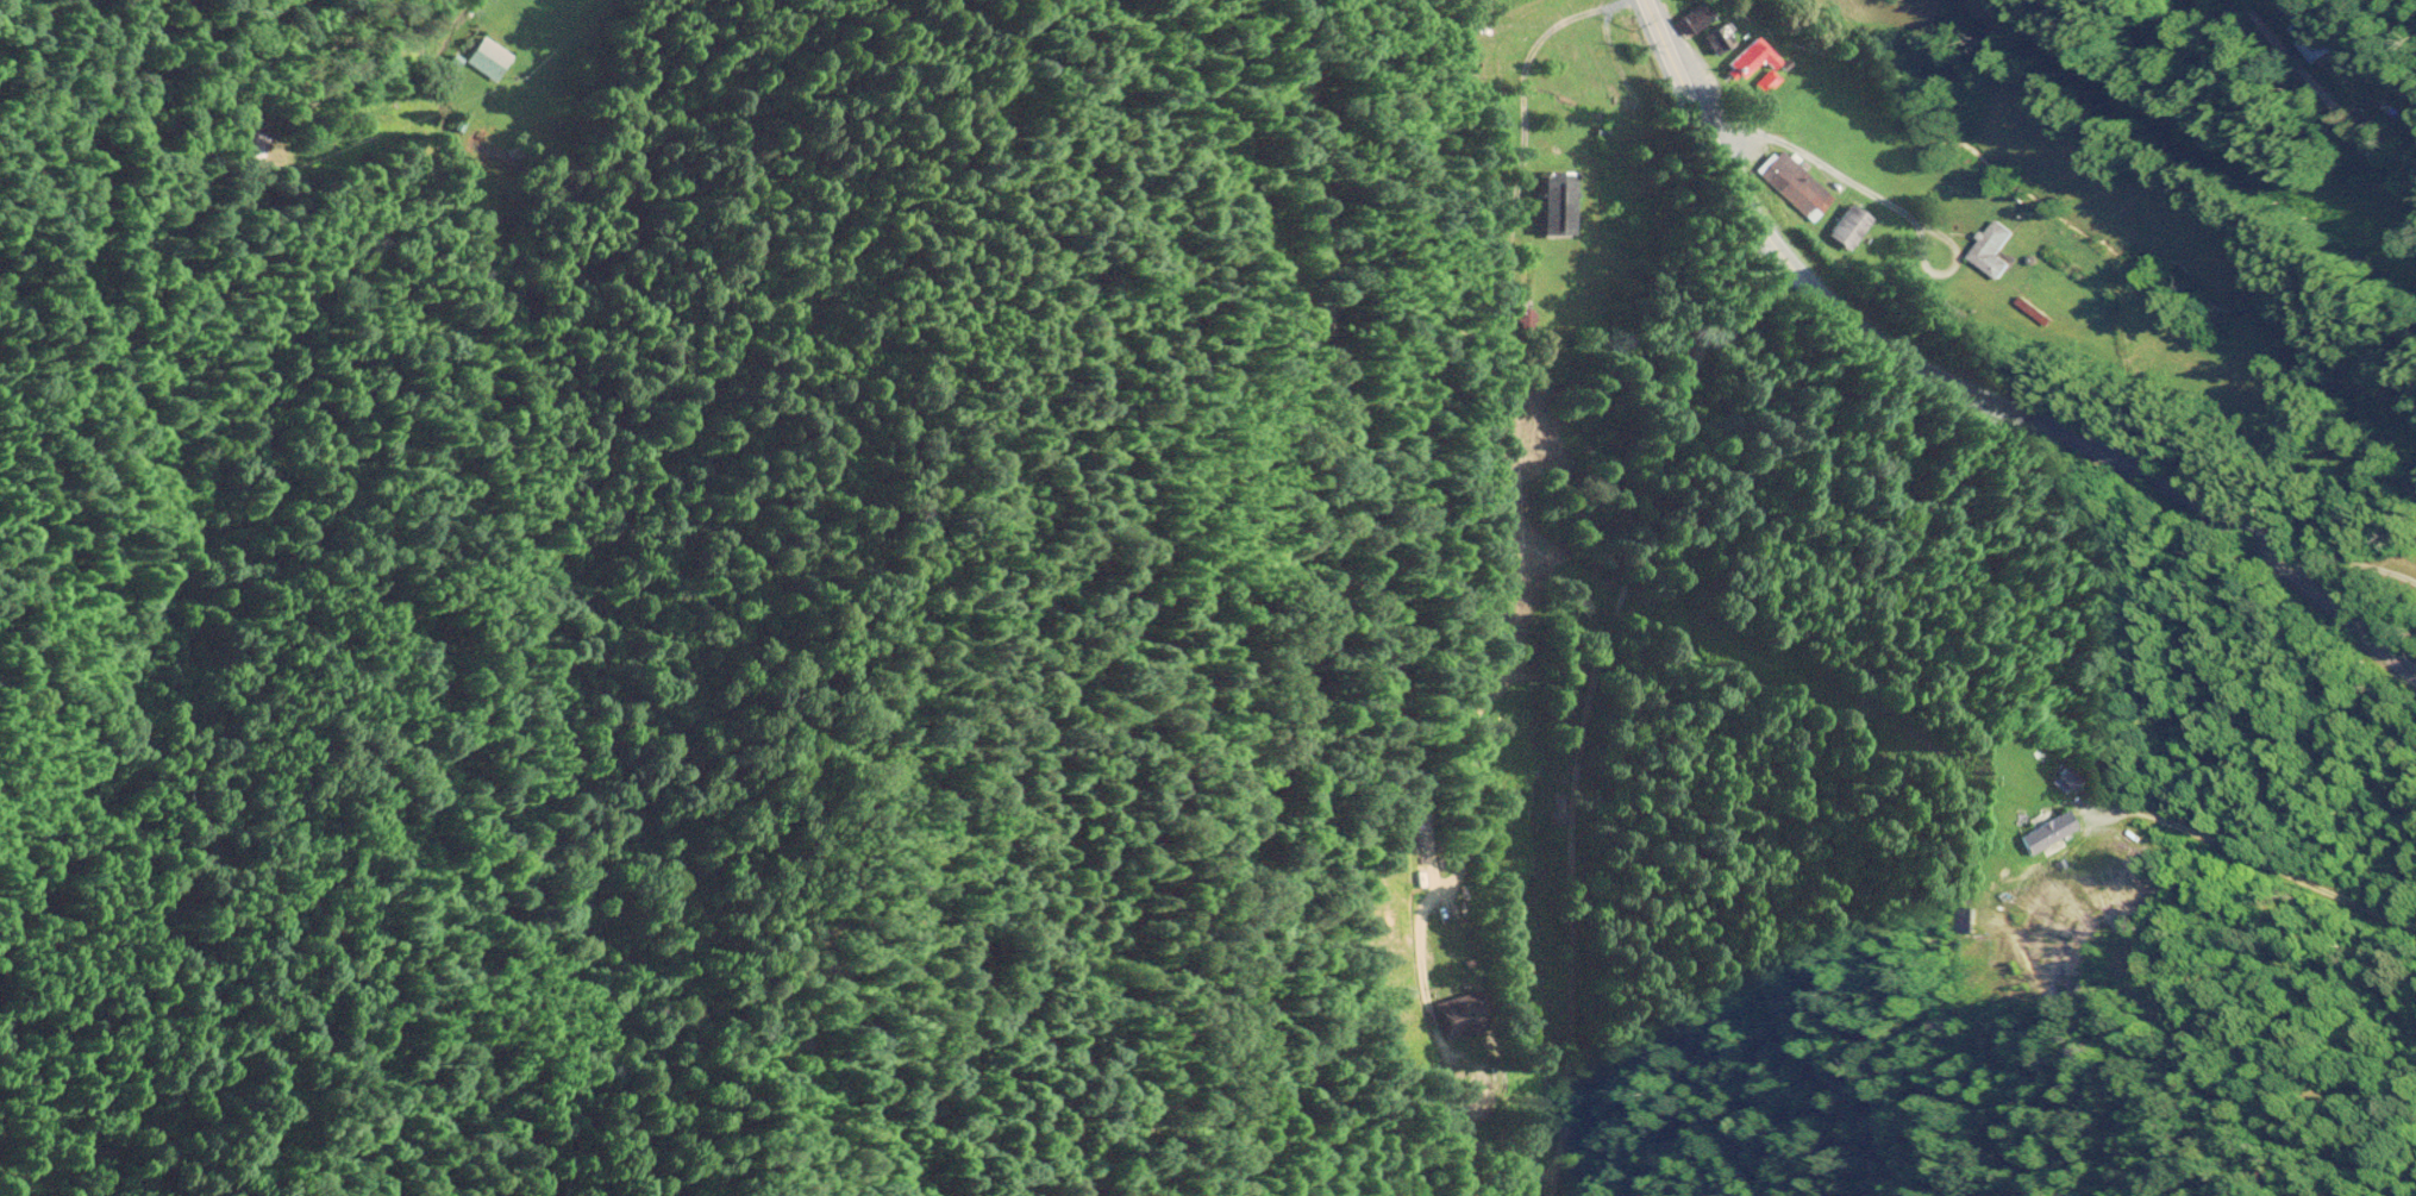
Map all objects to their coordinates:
building: (487, 56)
road: (2318, 74)
building: (1795, 182)
building: (1988, 239)
road: (1969, 407)
road: (1200, 596)
road: (1619, 718)
building: (2046, 829)

